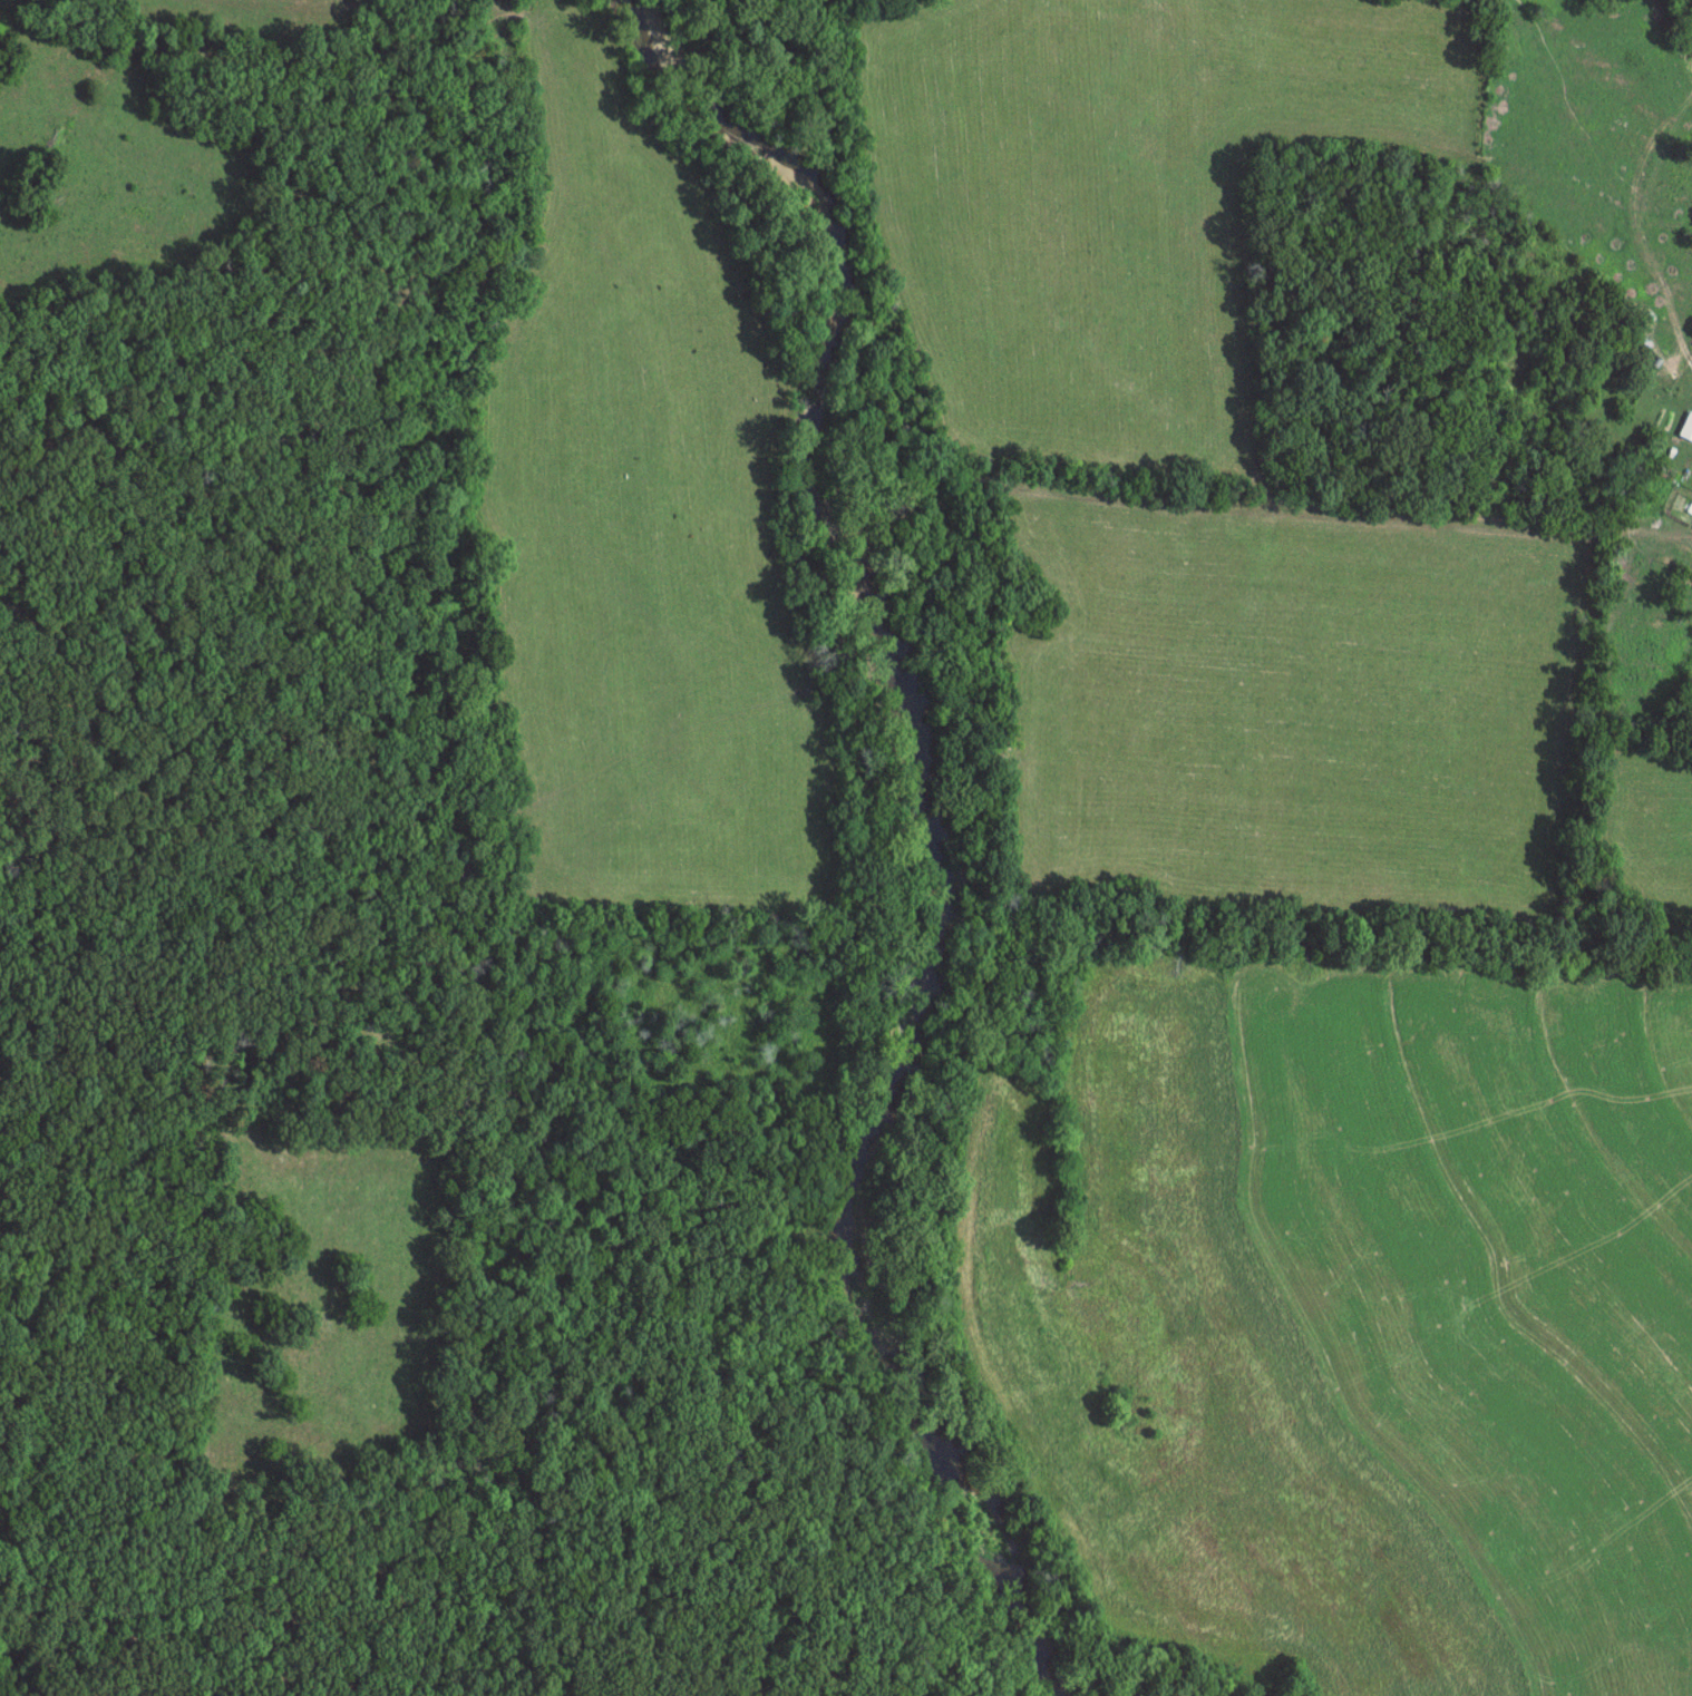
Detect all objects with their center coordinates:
building: (1685, 425)

